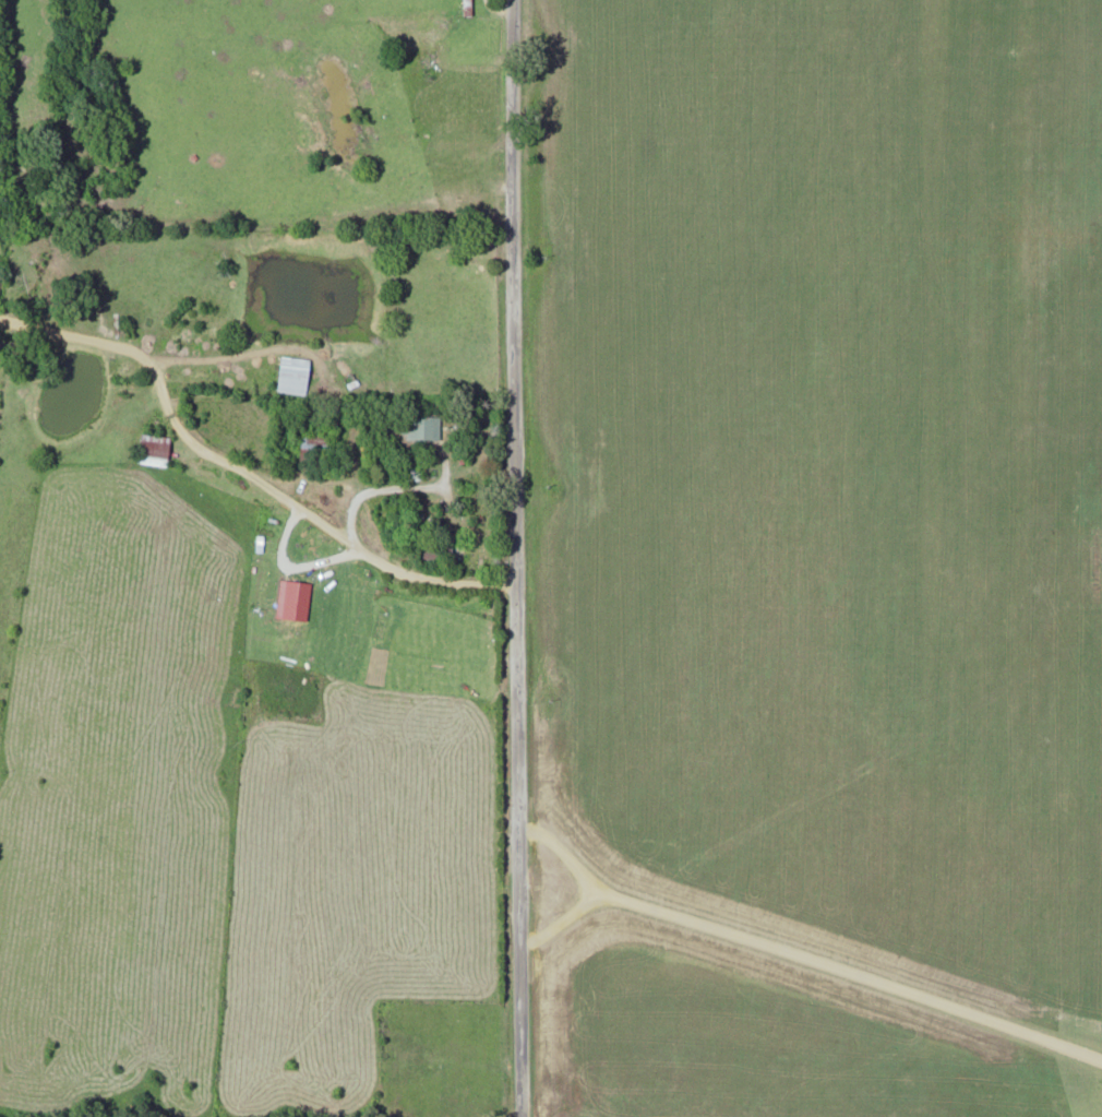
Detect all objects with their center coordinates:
building: (467, 2)
building: (296, 375)
building: (422, 427)
building: (318, 448)
building: (155, 450)
building: (414, 471)
building: (439, 550)
road: (543, 558)

